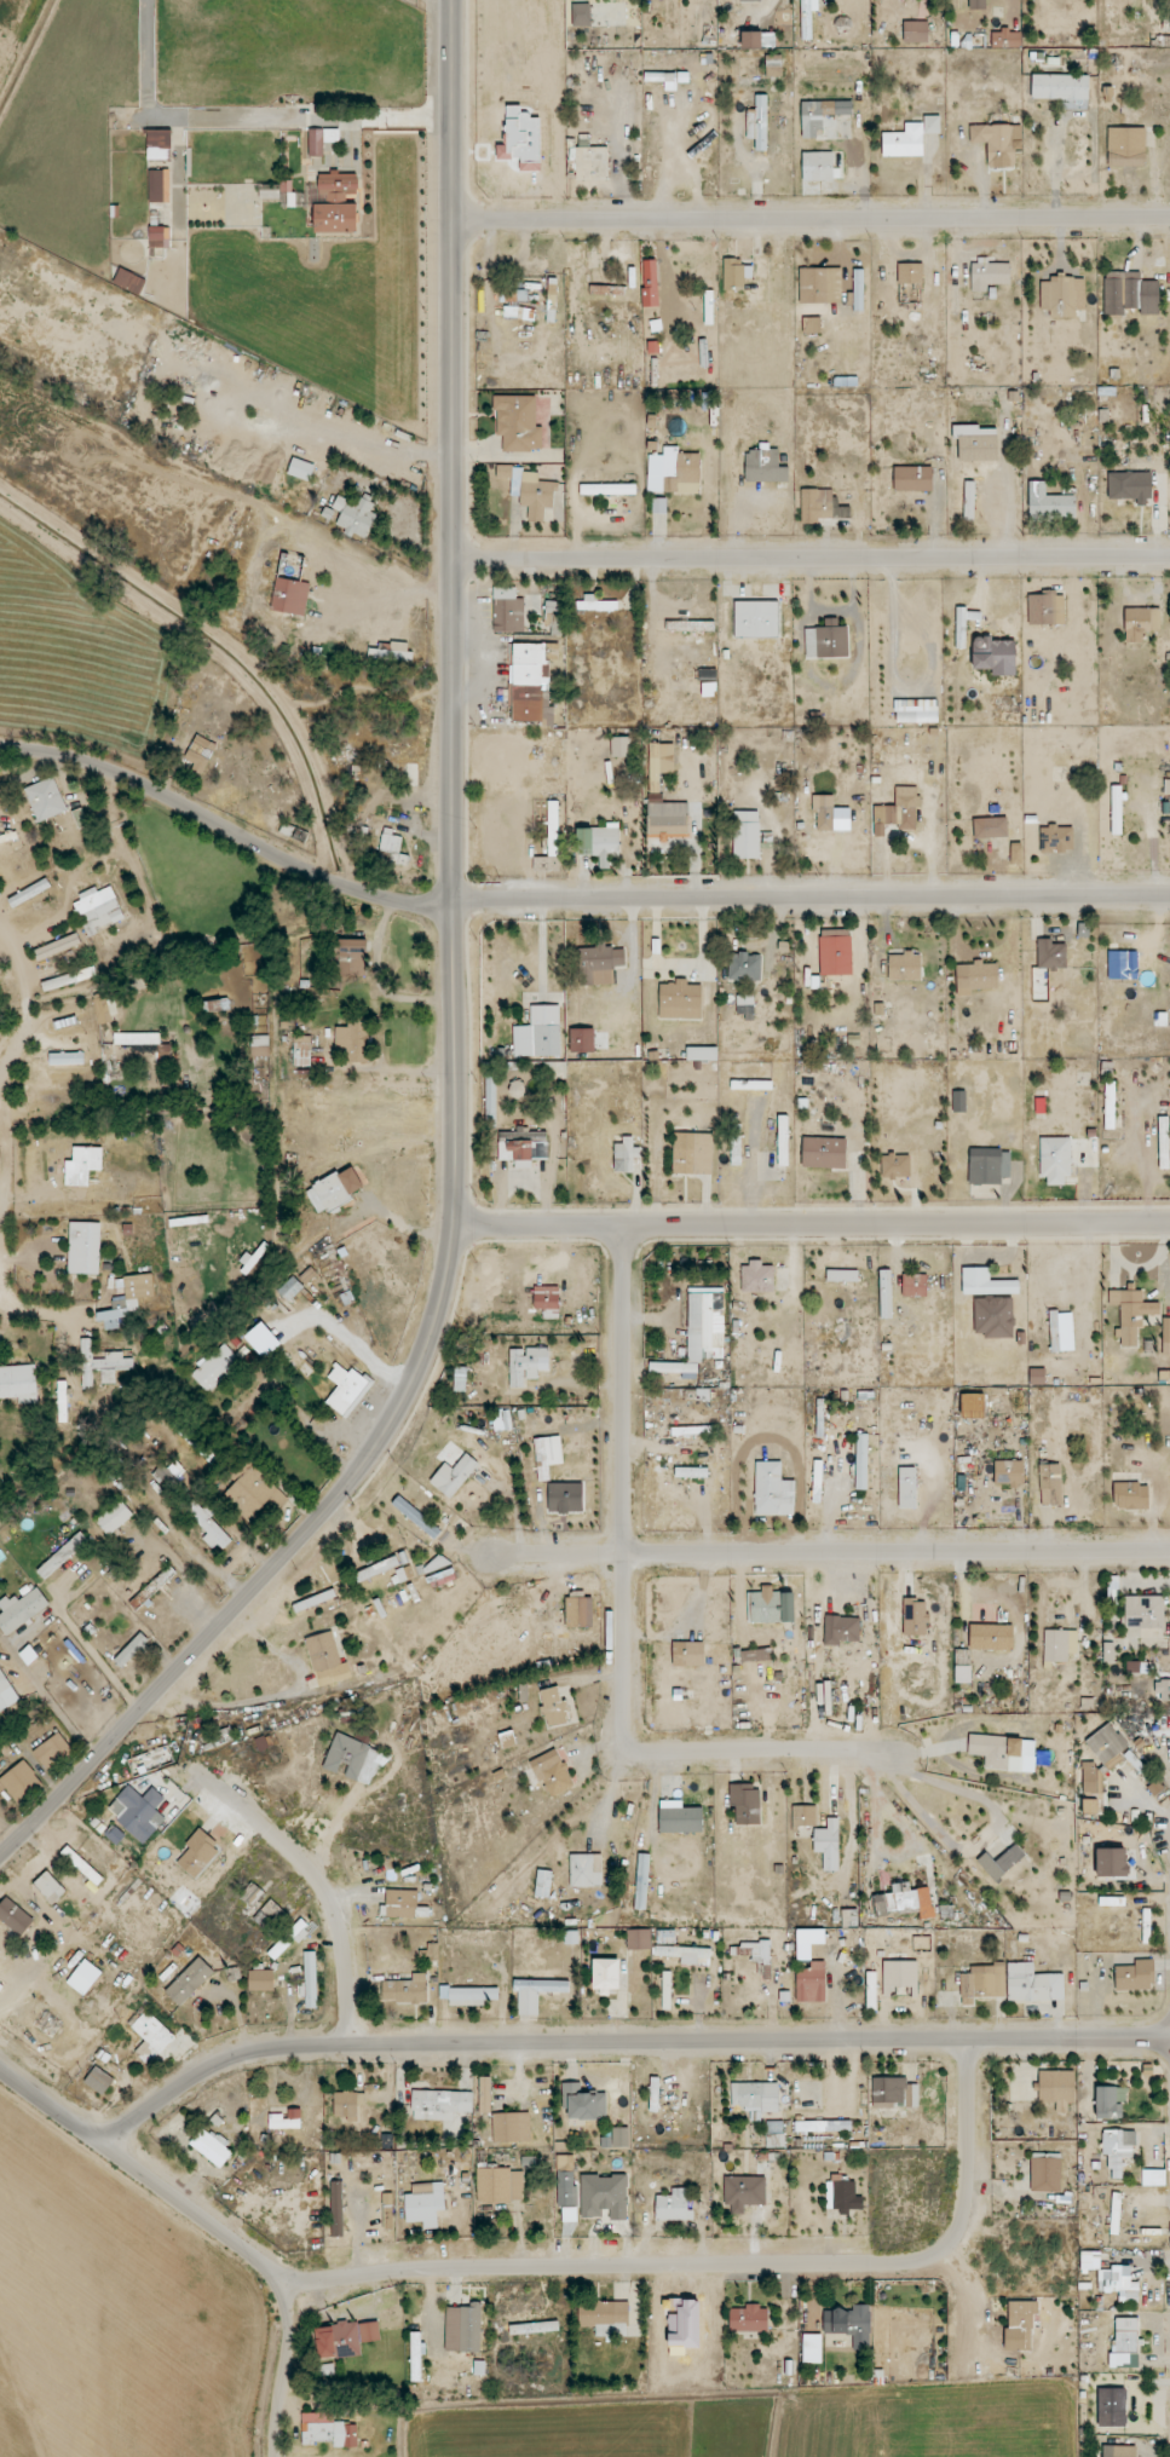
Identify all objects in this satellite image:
building: (976, 5)
building: (581, 15)
building: (807, 17)
building: (915, 31)
building: (1005, 39)
building: (751, 40)
building: (773, 67)
building: (668, 79)
building: (1062, 88)
building: (820, 115)
building: (757, 122)
building: (910, 138)
building: (521, 139)
building: (321, 140)
building: (999, 143)
building: (159, 144)
building: (1126, 146)
road: (1054, 161)
building: (592, 162)
building: (817, 166)
building: (338, 184)
building: (159, 186)
building: (335, 218)
road: (806, 219)
building: (159, 237)
building: (734, 273)
building: (910, 273)
building: (989, 275)
building: (129, 282)
building: (650, 283)
building: (819, 286)
building: (858, 289)
building: (1129, 293)
building: (1062, 296)
building: (812, 325)
building: (518, 423)
building: (976, 443)
building: (765, 466)
building: (301, 469)
building: (673, 472)
building: (912, 479)
building: (1130, 486)
building: (607, 489)
building: (530, 491)
building: (969, 501)
building: (1049, 503)
building: (820, 506)
building: (356, 515)
road: (807, 558)
building: (290, 596)
building: (595, 605)
building: (1045, 609)
building: (507, 611)
building: (553, 613)
building: (756, 619)
building: (1140, 622)
building: (964, 624)
building: (690, 627)
building: (826, 641)
building: (391, 652)
building: (995, 656)
building: (531, 681)
building: (708, 681)
building: (917, 716)
building: (621, 746)
building: (200, 754)
building: (659, 763)
building: (46, 798)
building: (1116, 809)
building: (824, 812)
building: (898, 813)
building: (667, 818)
building: (990, 827)
building: (553, 829)
building: (745, 835)
building: (1056, 838)
building: (599, 842)
building: (391, 849)
building: (29, 893)
road: (567, 898)
building: (98, 910)
building: (57, 946)
building: (1050, 954)
building: (834, 956)
building: (352, 958)
building: (599, 964)
building: (744, 967)
building: (904, 967)
building: (976, 977)
building: (68, 979)
building: (680, 999)
building: (217, 1005)
building: (745, 1007)
road: (445, 1008)
building: (102, 1010)
building: (538, 1033)
building: (137, 1038)
building: (350, 1039)
building: (582, 1040)
building: (260, 1045)
building: (301, 1050)
building: (702, 1054)
building: (67, 1059)
building: (551, 1075)
building: (751, 1085)
building: (517, 1089)
building: (490, 1091)
building: (958, 1101)
building: (1108, 1112)
building: (783, 1141)
building: (1164, 1143)
building: (736, 1144)
building: (523, 1146)
building: (692, 1153)
building: (824, 1153)
building: (624, 1155)
building: (1055, 1160)
building: (82, 1165)
building: (895, 1166)
building: (989, 1166)
building: (335, 1189)
road: (807, 1224)
building: (83, 1247)
building: (252, 1258)
building: (307, 1275)
building: (842, 1275)
building: (757, 1277)
building: (985, 1282)
building: (913, 1285)
building: (289, 1288)
building: (886, 1293)
building: (546, 1297)
building: (117, 1313)
building: (1131, 1314)
building: (993, 1316)
building: (1061, 1331)
building: (1166, 1337)
building: (102, 1365)
building: (528, 1365)
building: (215, 1368)
building: (1037, 1377)
building: (18, 1383)
building: (346, 1390)
building: (698, 1395)
building: (973, 1406)
building: (502, 1420)
building: (692, 1430)
building: (195, 1437)
building: (547, 1455)
building: (861, 1461)
building: (691, 1472)
building: (1009, 1472)
building: (454, 1475)
building: (172, 1480)
building: (1050, 1484)
building: (906, 1487)
building: (773, 1489)
building: (254, 1493)
building: (1130, 1495)
building: (565, 1496)
building: (114, 1517)
building: (416, 1517)
road: (622, 1522)
building: (208, 1524)
road: (828, 1550)
building: (62, 1556)
building: (438, 1562)
building: (376, 1569)
building: (404, 1574)
building: (442, 1578)
building: (152, 1587)
building: (771, 1605)
building: (21, 1610)
building: (578, 1610)
building: (1143, 1611)
building: (915, 1616)
building: (841, 1630)
building: (991, 1637)
building: (1059, 1645)
building: (132, 1650)
building: (1108, 1651)
building: (688, 1654)
building: (756, 1655)
building: (327, 1660)
building: (962, 1666)
building: (1136, 1667)
building: (4, 1684)
road: (48, 1694)
building: (554, 1707)
building: (508, 1740)
building: (264, 1742)
building: (1106, 1743)
building: (52, 1751)
road: (757, 1751)
building: (1003, 1752)
building: (355, 1759)
building: (1139, 1766)
building: (552, 1772)
building: (19, 1782)
building: (1154, 1787)
building: (1093, 1788)
building: (745, 1804)
building: (138, 1812)
building: (803, 1816)
building: (679, 1817)
road: (981, 1834)
building: (828, 1844)
building: (198, 1853)
building: (1002, 1862)
building: (1111, 1862)
building: (81, 1864)
building: (586, 1870)
building: (641, 1881)
road: (317, 1882)
building: (543, 1884)
building: (50, 1887)
building: (250, 1893)
building: (905, 1901)
building: (402, 1903)
building: (15, 1916)
building: (270, 1916)
building: (849, 1917)
building: (667, 1937)
building: (290, 1938)
building: (639, 1939)
building: (431, 1951)
building: (756, 1951)
building: (686, 1954)
building: (606, 1976)
building: (899, 1976)
building: (1135, 1976)
building: (83, 1977)
building: (189, 1980)
building: (260, 1980)
building: (310, 1980)
building: (811, 1983)
building: (982, 1983)
building: (1032, 1983)
building: (1, 1985)
building: (405, 1989)
building: (667, 1990)
building: (536, 1994)
building: (472, 1996)
building: (150, 2036)
road: (623, 2041)
building: (98, 2081)
building: (1056, 2088)
building: (894, 2093)
building: (484, 2095)
building: (755, 2095)
building: (653, 2096)
building: (1110, 2101)
building: (583, 2103)
building: (440, 2104)
building: (348, 2105)
building: (286, 2119)
building: (823, 2126)
building: (511, 2127)
building: (774, 2134)
building: (617, 2138)
road: (968, 2140)
building: (387, 2141)
building: (212, 2146)
building: (1118, 2151)
building: (1045, 2171)
building: (1153, 2178)
building: (566, 2180)
building: (500, 2185)
building: (744, 2192)
building: (842, 2194)
building: (604, 2196)
building: (425, 2203)
building: (674, 2205)
building: (336, 2208)
building: (1116, 2214)
road: (213, 2227)
road: (618, 2265)
building: (1118, 2283)
building: (603, 2313)
building: (749, 2318)
building: (851, 2324)
building: (1020, 2324)
building: (463, 2328)
building: (534, 2328)
building: (369, 2331)
building: (338, 2341)
building: (1126, 2342)
building: (812, 2348)
building: (415, 2357)
building: (1112, 2407)
building: (328, 2430)
building: (1124, 2451)

